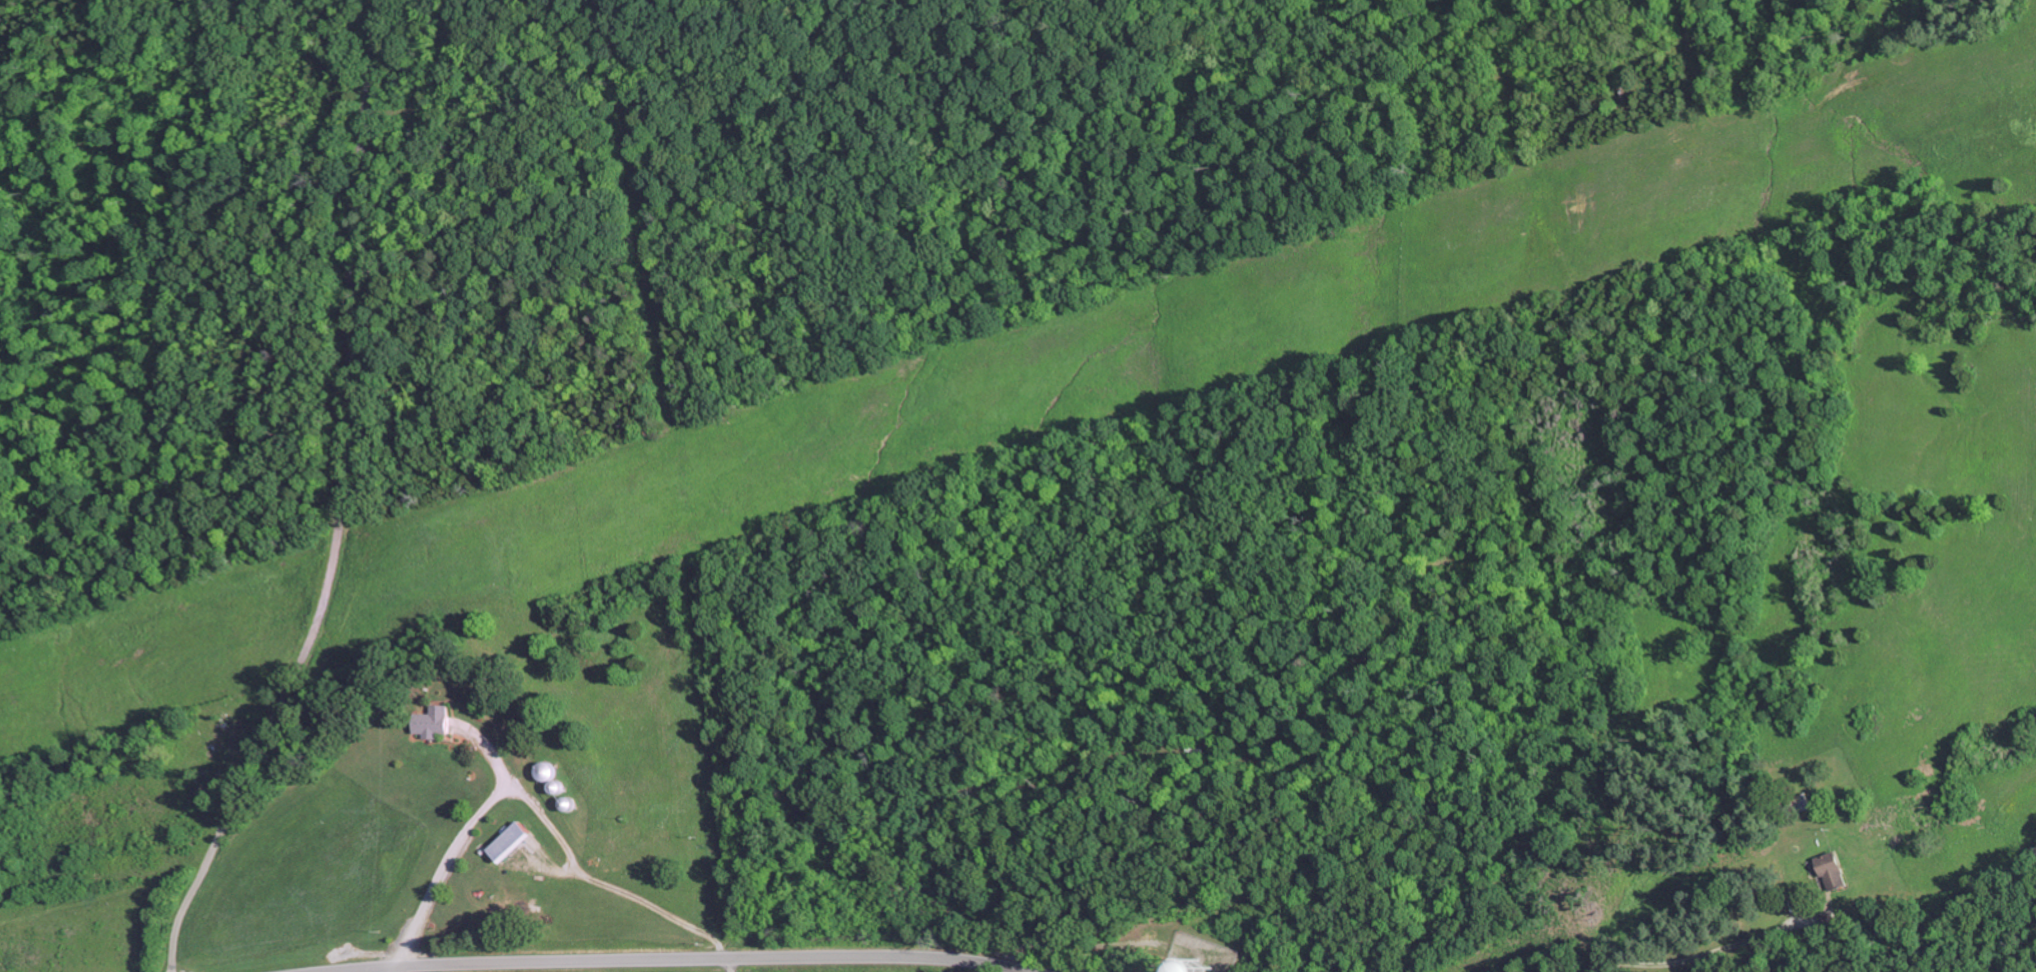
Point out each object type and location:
road: (340, 501)
building: (429, 723)
road: (538, 814)
building: (504, 843)
building: (1830, 873)
road: (1698, 952)
road: (676, 958)
road: (396, 969)

